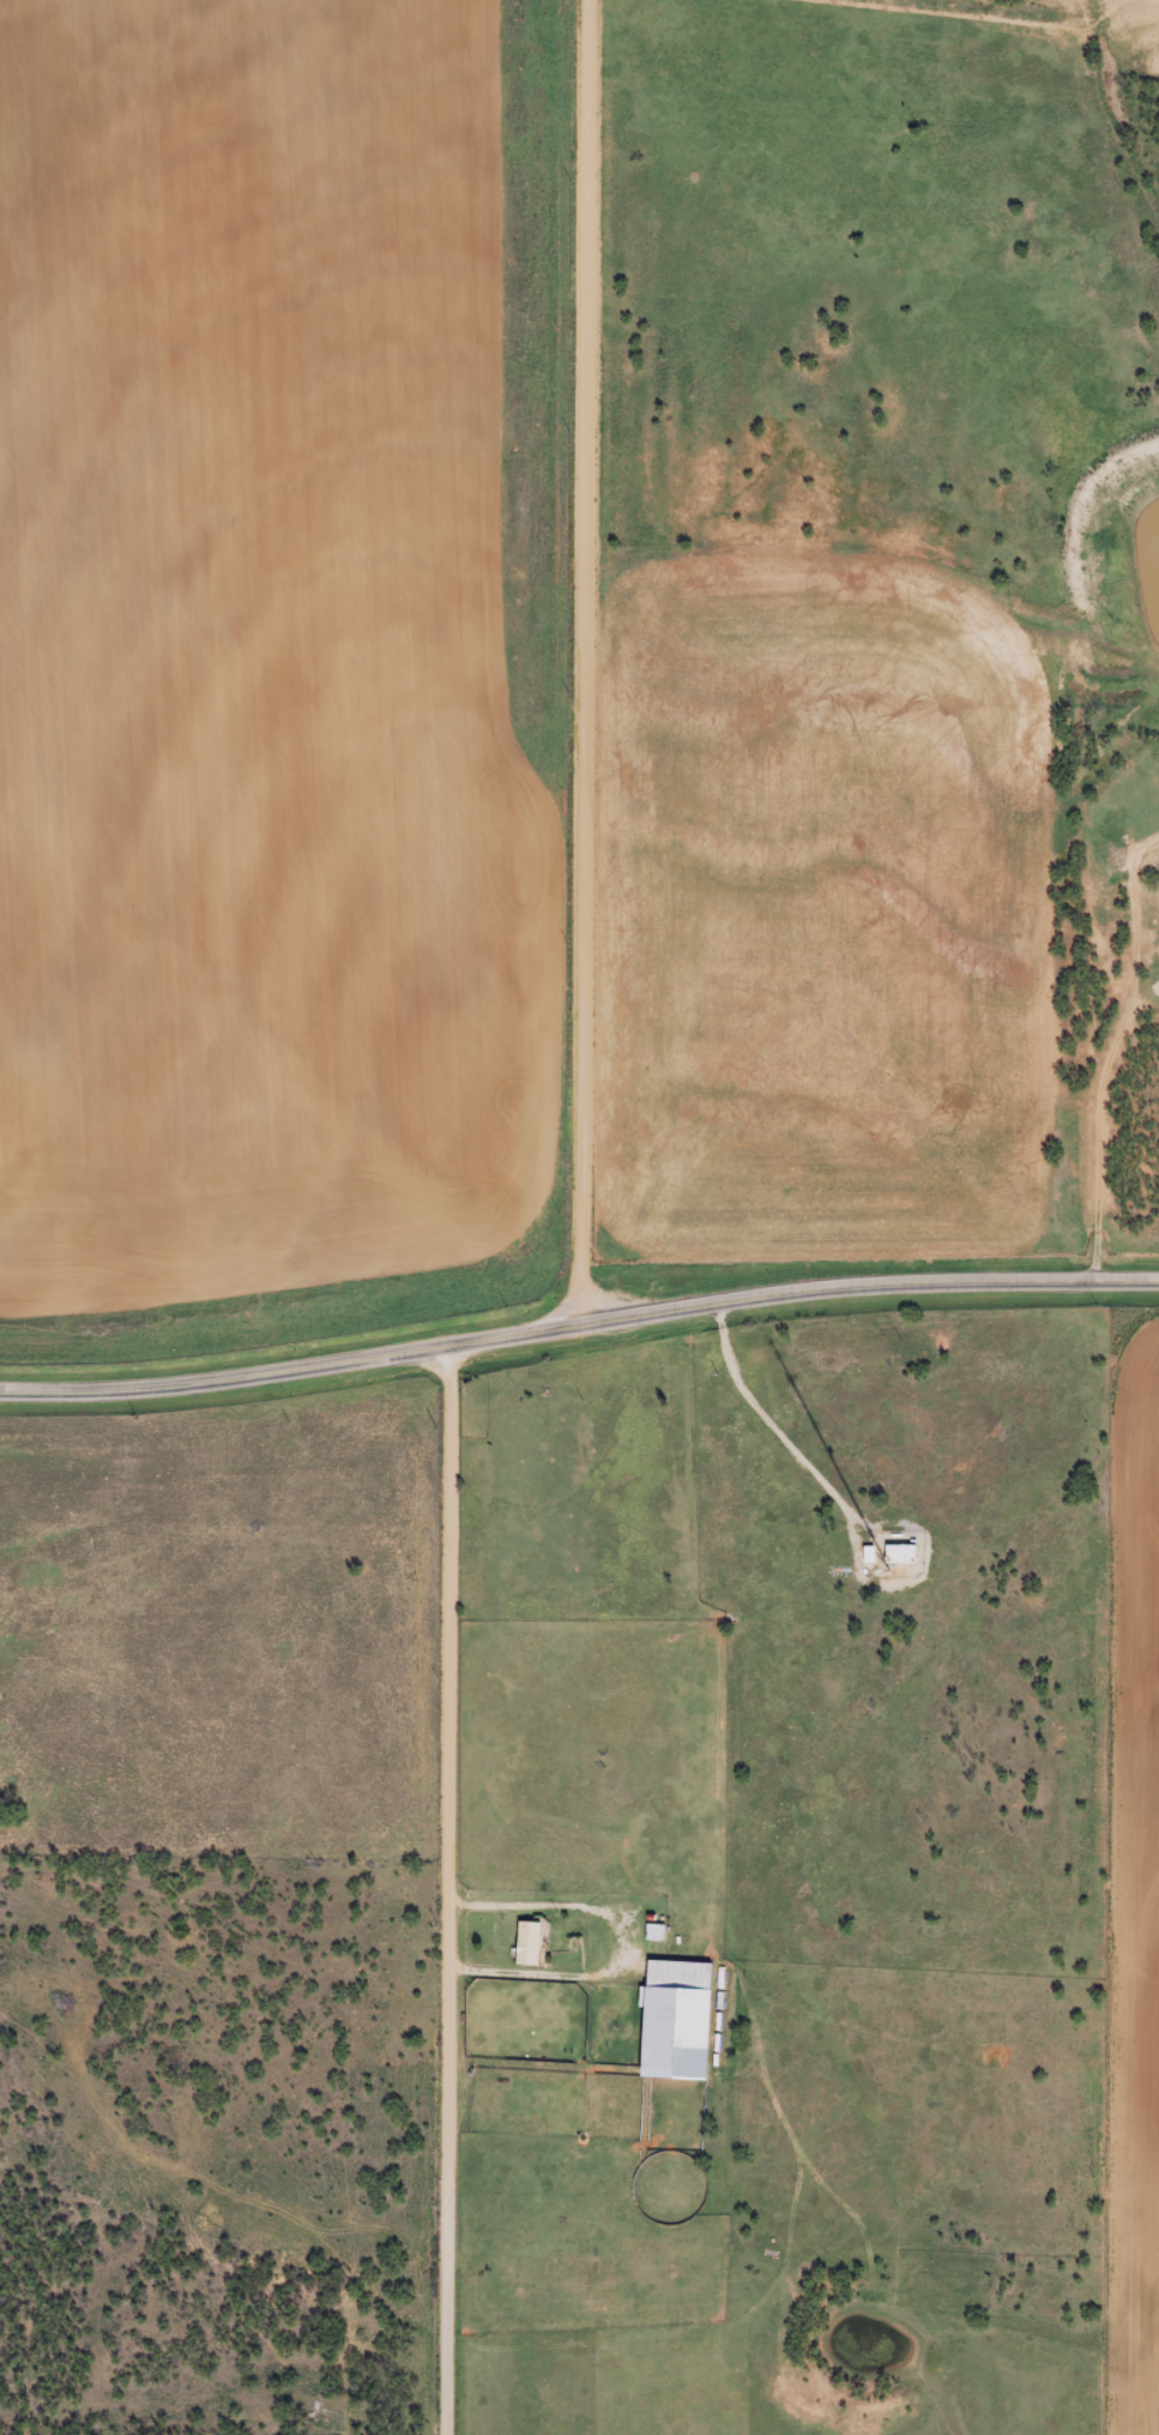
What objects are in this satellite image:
road: (586, 659)
road: (577, 1318)
building: (897, 1555)
road: (453, 1889)
building: (524, 1943)
building: (671, 2019)

